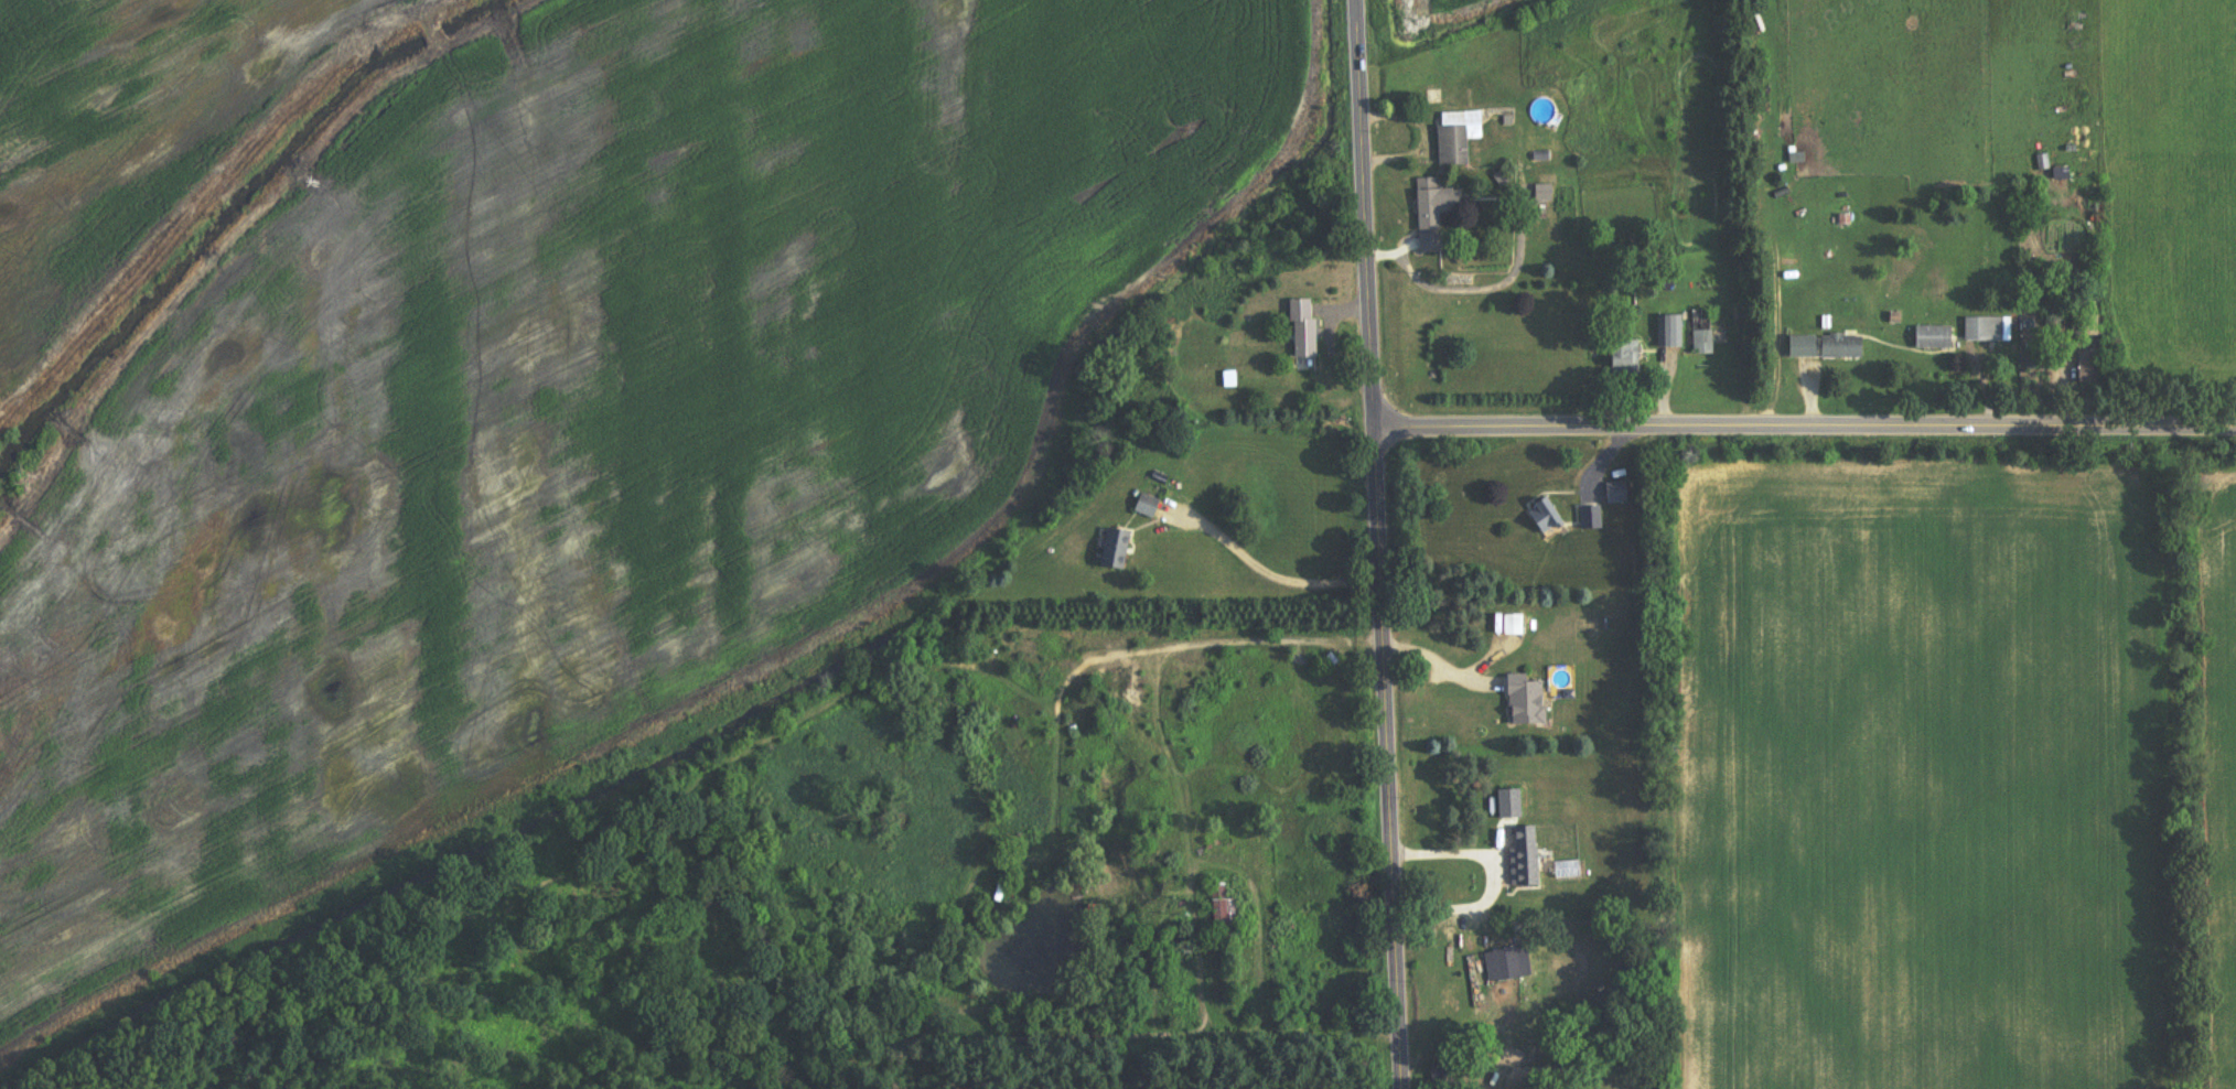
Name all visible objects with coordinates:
building: (1460, 136)
building: (2062, 174)
building: (1437, 212)
building: (1305, 328)
building: (1987, 330)
building: (1671, 333)
building: (1705, 334)
building: (1936, 337)
building: (1805, 347)
building: (1845, 347)
building: (1626, 358)
building: (2092, 367)
road: (1806, 429)
building: (1616, 494)
building: (1149, 507)
building: (1546, 516)
building: (1591, 518)
road: (1382, 544)
building: (1118, 550)
road: (1276, 576)
building: (1512, 625)
road: (1441, 666)
building: (1527, 702)
building: (1073, 769)
building: (1526, 858)
road: (1494, 880)
building: (1226, 914)
building: (1505, 966)
building: (1442, 1077)

